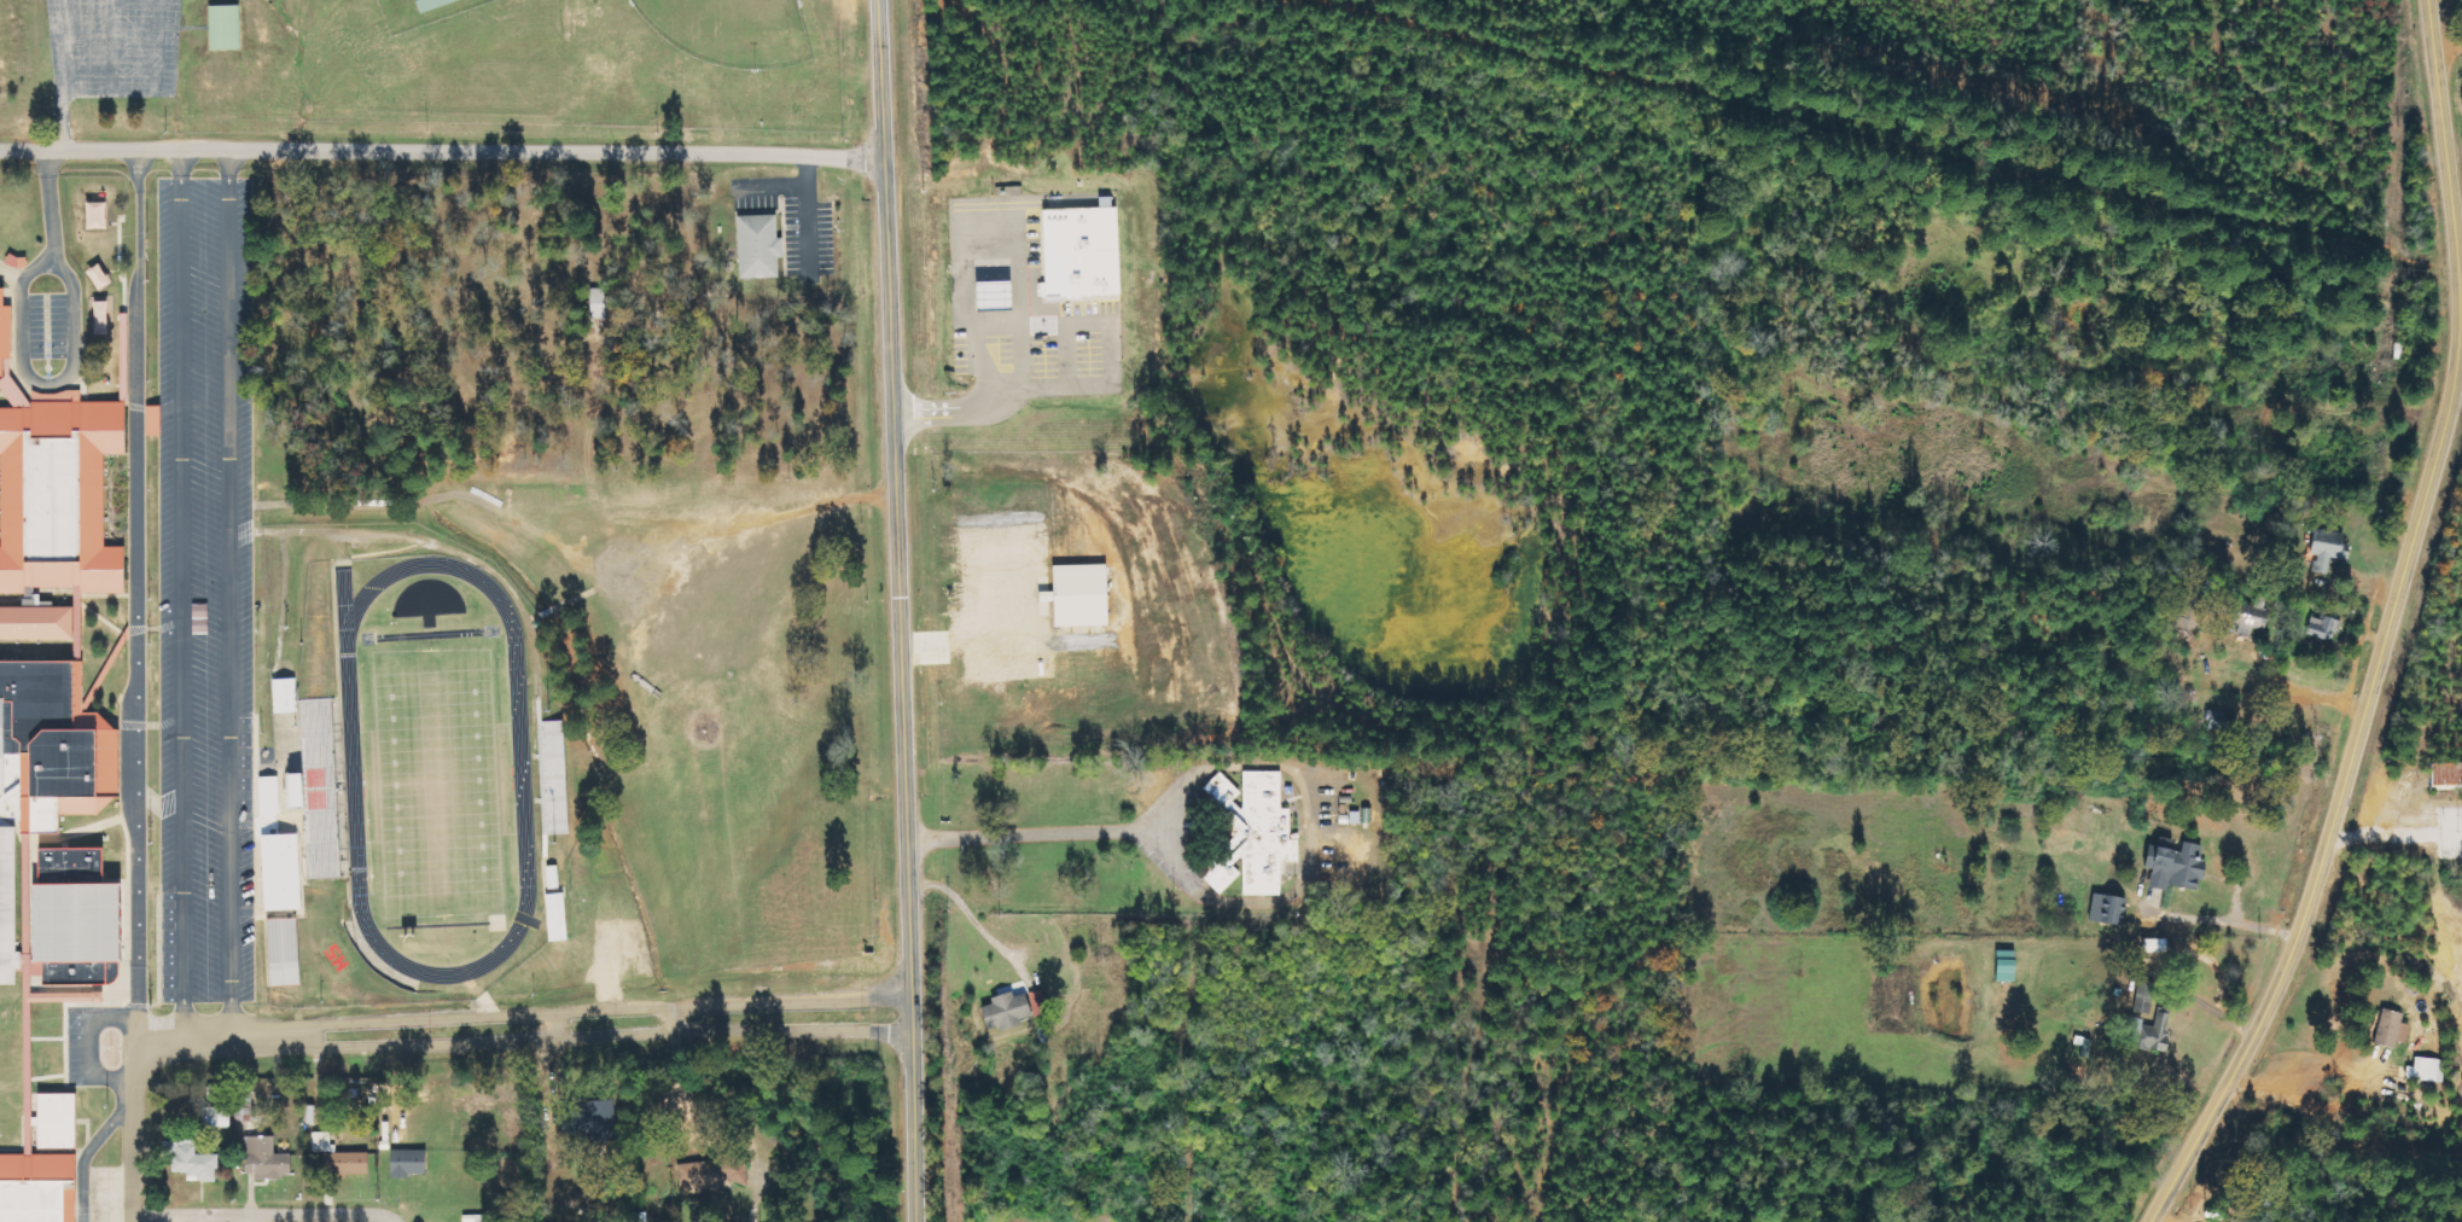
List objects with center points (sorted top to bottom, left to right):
building: (431, 4)
building: (222, 27)
park: (731, 30)
road: (64, 45)
road: (111, 46)
parking lot: (111, 47)
park: (437, 71)
road: (879, 80)
road: (153, 91)
road: (60, 120)
road: (441, 151)
building: (99, 215)
building: (761, 246)
building: (1086, 251)
road: (10, 275)
building: (101, 277)
building: (999, 295)
building: (599, 303)
road: (2386, 314)
building: (104, 316)
road: (1049, 326)
building: (2, 328)
road: (19, 339)
building: (2394, 350)
building: (156, 420)
road: (2434, 450)
building: (58, 494)
building: (2322, 548)
parking lot: (203, 588)
road: (179, 594)
road: (227, 594)
road: (136, 595)
building: (1083, 595)
building: (2245, 618)
building: (36, 621)
building: (2320, 625)
road: (900, 691)
building: (286, 696)
building: (2217, 722)
building: (56, 738)
track: (349, 767)
park: (435, 779)
building: (321, 785)
building: (301, 791)
building: (270, 796)
building: (1257, 834)
road: (1040, 836)
building: (2171, 865)
building: (283, 873)
building: (554, 879)
building: (8, 903)
building: (2103, 909)
building: (81, 918)
building: (558, 918)
road: (2224, 921)
building: (2146, 945)
building: (285, 953)
building: (2000, 965)
building: (1040, 1006)
building: (1009, 1012)
road: (520, 1025)
building: (2386, 1029)
building: (2141, 1034)
road: (89, 1048)
road: (2239, 1059)
building: (2425, 1070)
building: (220, 1118)
building: (57, 1119)
road: (132, 1131)
road: (86, 1152)
building: (341, 1158)
building: (268, 1160)
building: (193, 1162)
building: (411, 1164)
building: (715, 1175)
building: (39, 1187)
road: (262, 1214)

